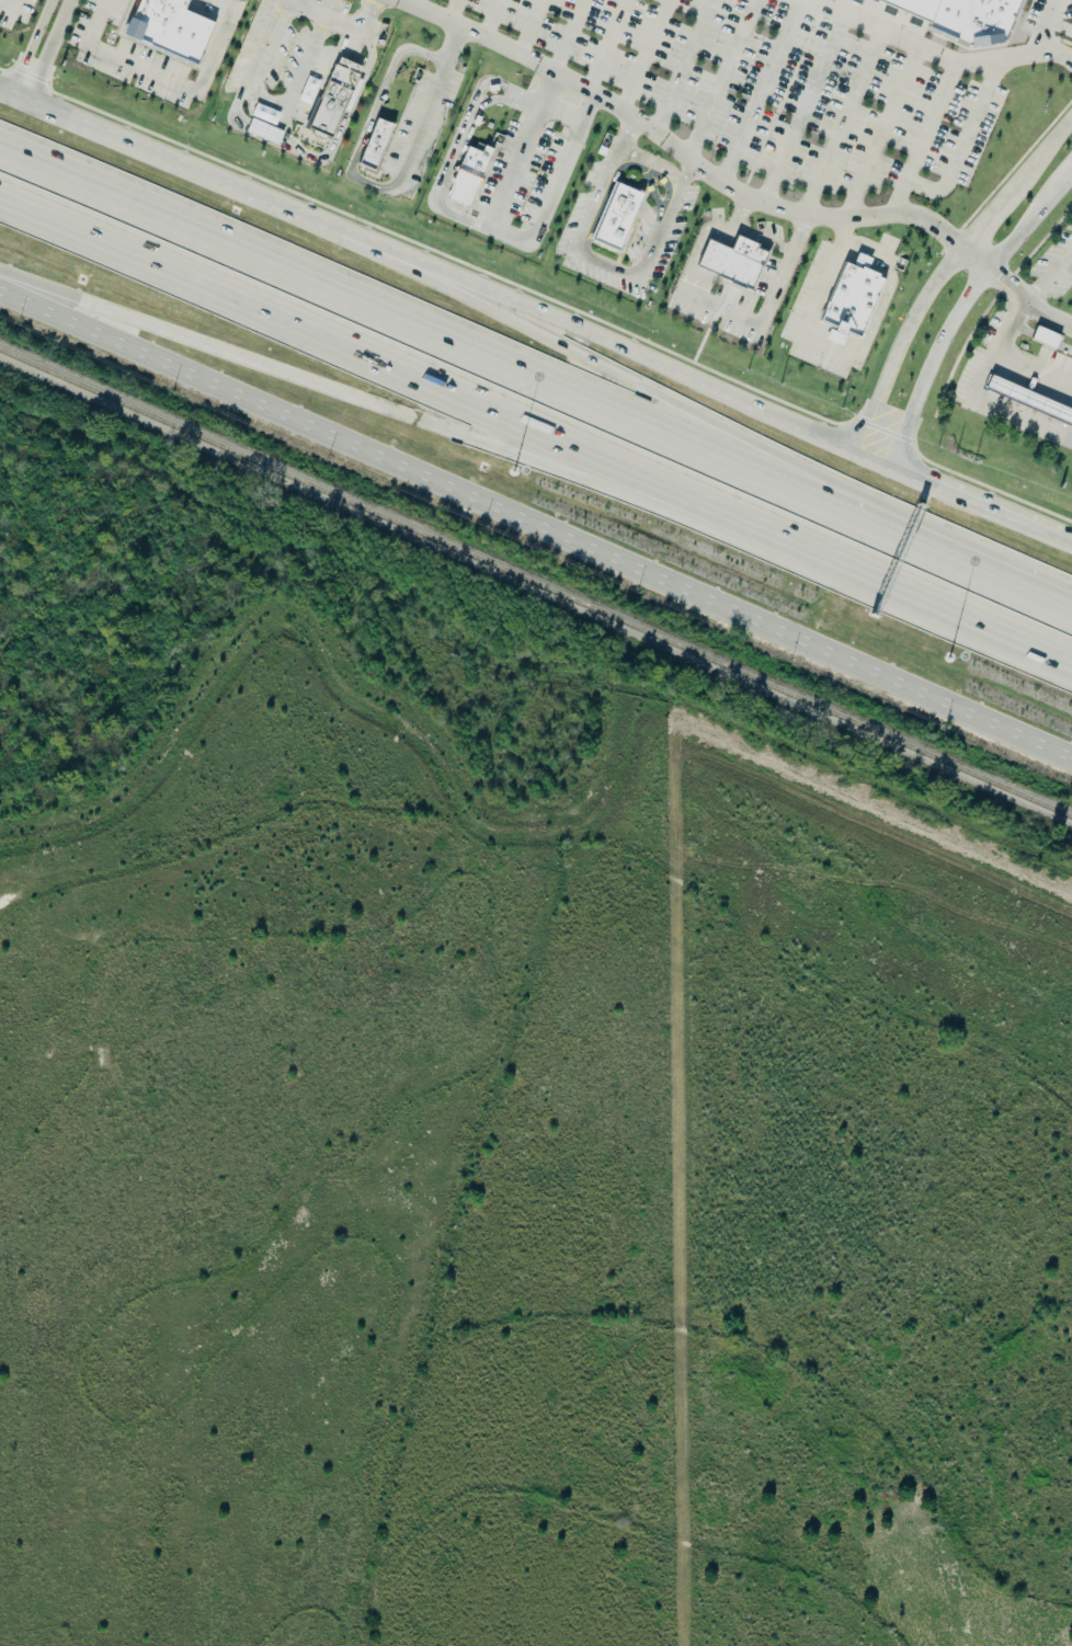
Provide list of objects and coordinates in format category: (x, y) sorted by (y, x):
road: (413, 1)
building: (851, 2)
road: (7, 3)
road: (452, 9)
road: (311, 10)
road: (493, 18)
building: (962, 18)
road: (531, 26)
road: (1044, 26)
road: (1059, 26)
building: (167, 28)
road: (571, 35)
road: (502, 44)
road: (608, 45)
road: (31, 46)
road: (46, 49)
road: (936, 53)
road: (646, 56)
road: (683, 66)
road: (168, 79)
road: (721, 79)
building: (309, 90)
road: (760, 91)
road: (292, 95)
building: (333, 99)
road: (431, 103)
road: (802, 107)
building: (265, 114)
road: (372, 114)
road: (561, 114)
road: (930, 121)
road: (844, 123)
building: (264, 132)
road: (880, 132)
road: (460, 142)
building: (375, 145)
road: (520, 149)
road: (328, 152)
road: (958, 157)
road: (652, 163)
road: (197, 173)
road: (689, 173)
building: (468, 176)
road: (551, 191)
road: (835, 216)
building: (615, 217)
road: (749, 232)
road: (698, 251)
road: (586, 255)
building: (734, 262)
road: (709, 264)
parking lot: (1054, 272)
road: (945, 276)
road: (1050, 278)
building: (851, 298)
road: (962, 310)
road: (768, 311)
building: (1048, 340)
road: (836, 353)
road: (645, 365)
road: (1033, 370)
road: (1014, 375)
road: (536, 377)
road: (1048, 389)
road: (1007, 393)
road: (978, 397)
building: (1029, 402)
gas station: (1029, 402)
road: (369, 403)
road: (1002, 407)
road: (1040, 408)
road: (1035, 420)
road: (536, 422)
road: (1070, 423)
road: (731, 430)
road: (1067, 433)
road: (977, 504)
road: (536, 516)
road: (1065, 540)
railway: (536, 584)

